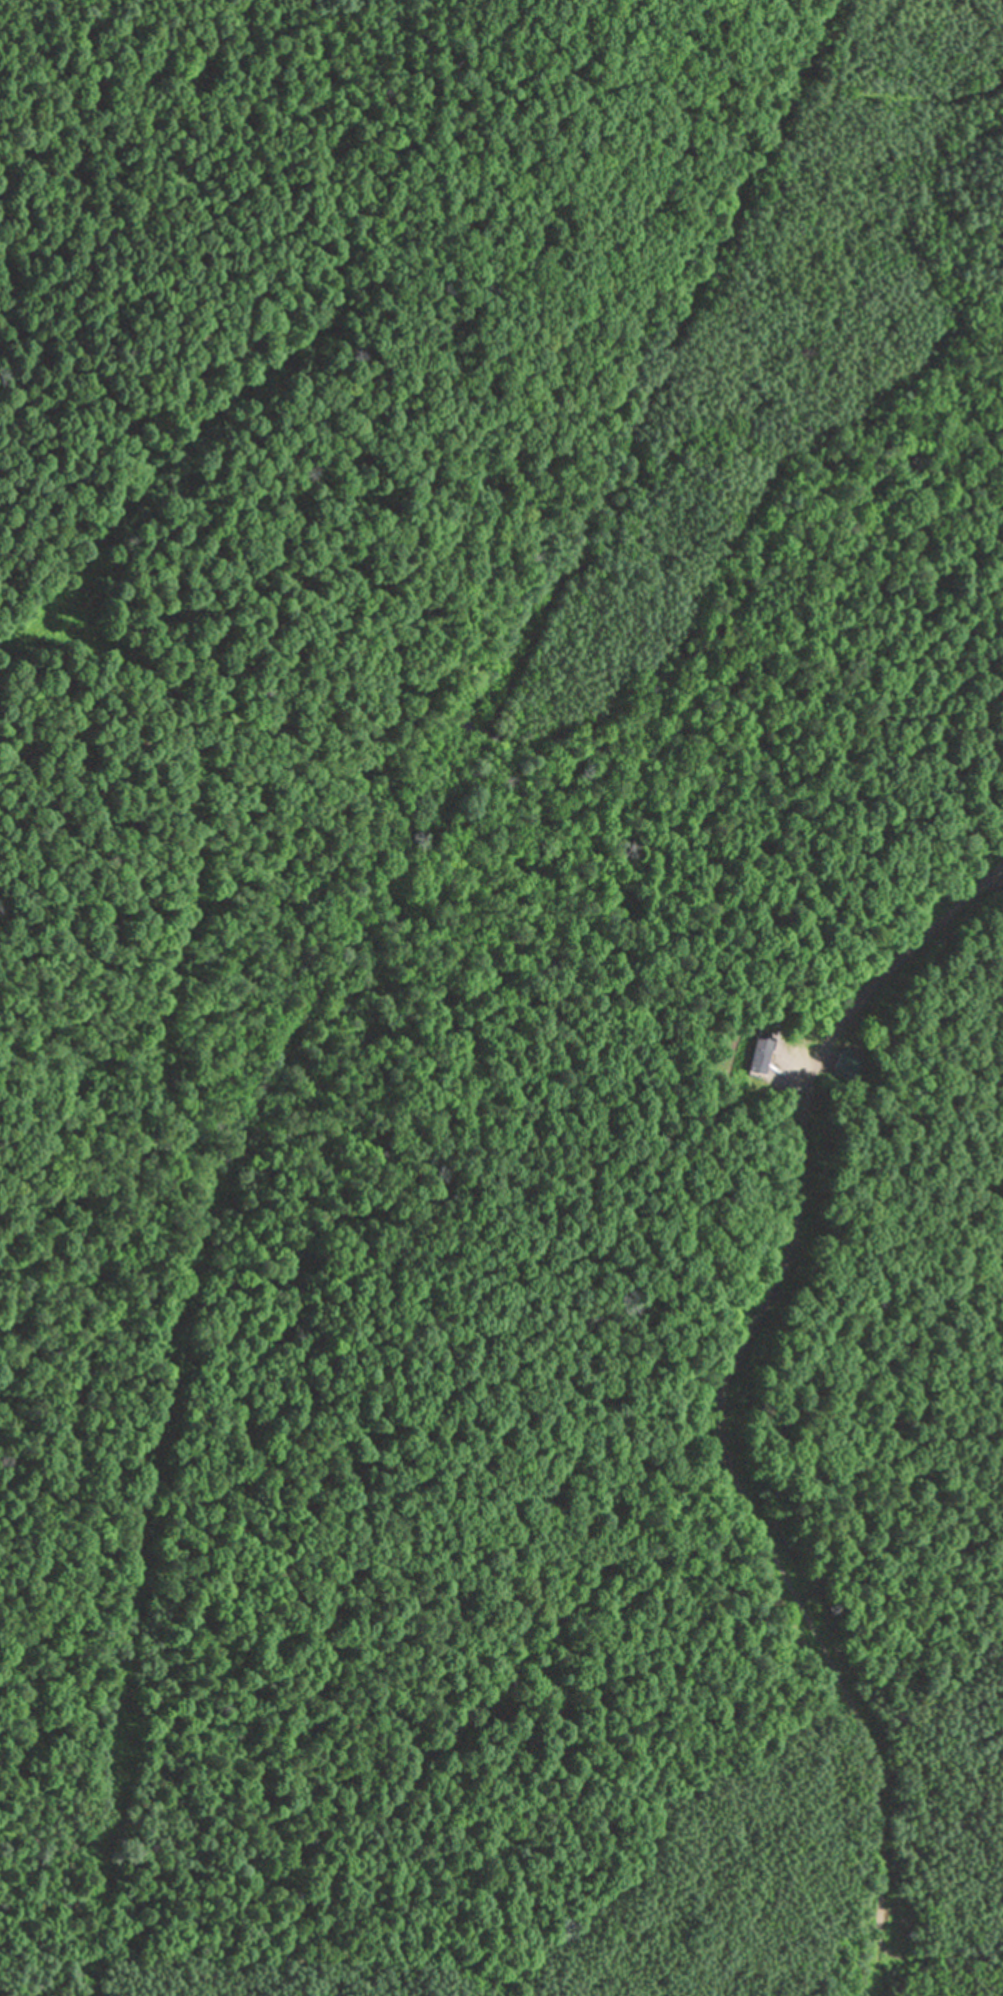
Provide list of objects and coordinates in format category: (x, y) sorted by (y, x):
road: (183, 448)
road: (189, 838)
road: (338, 960)
road: (885, 963)
building: (761, 1051)
road: (764, 1546)

